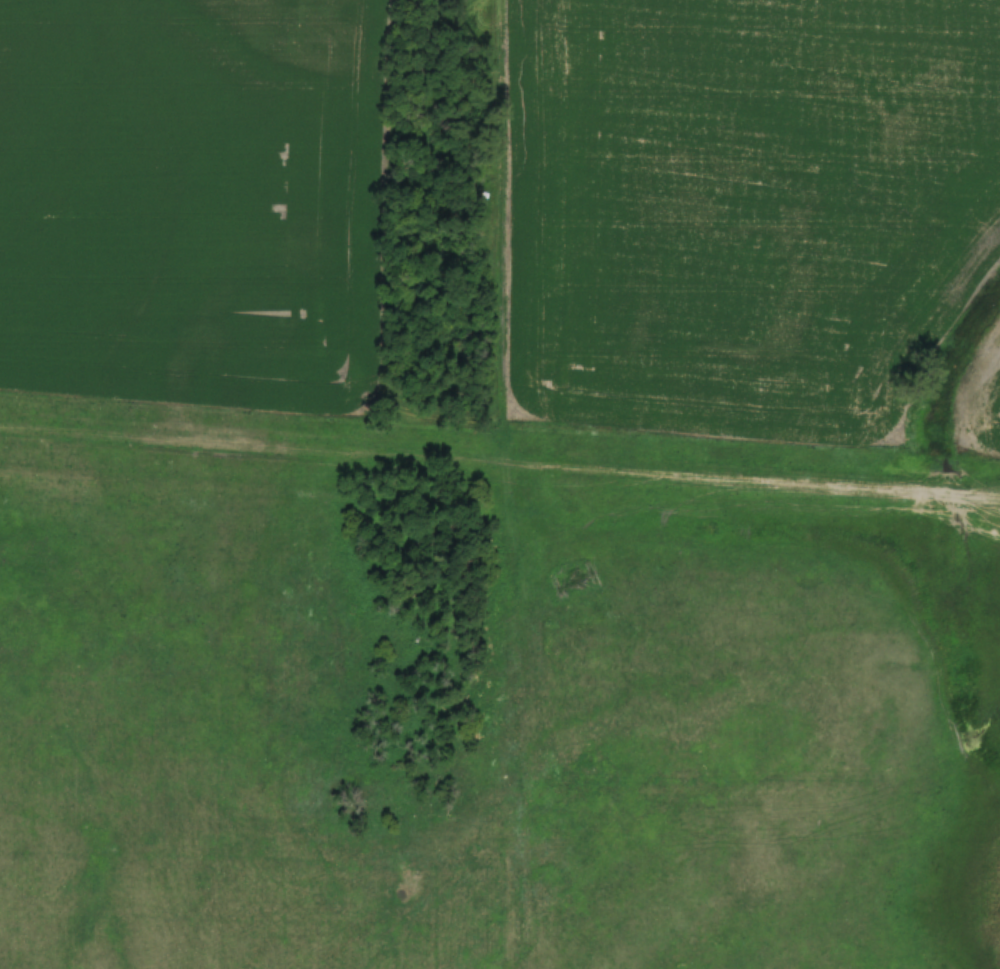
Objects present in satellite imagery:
road: (509, 212)

